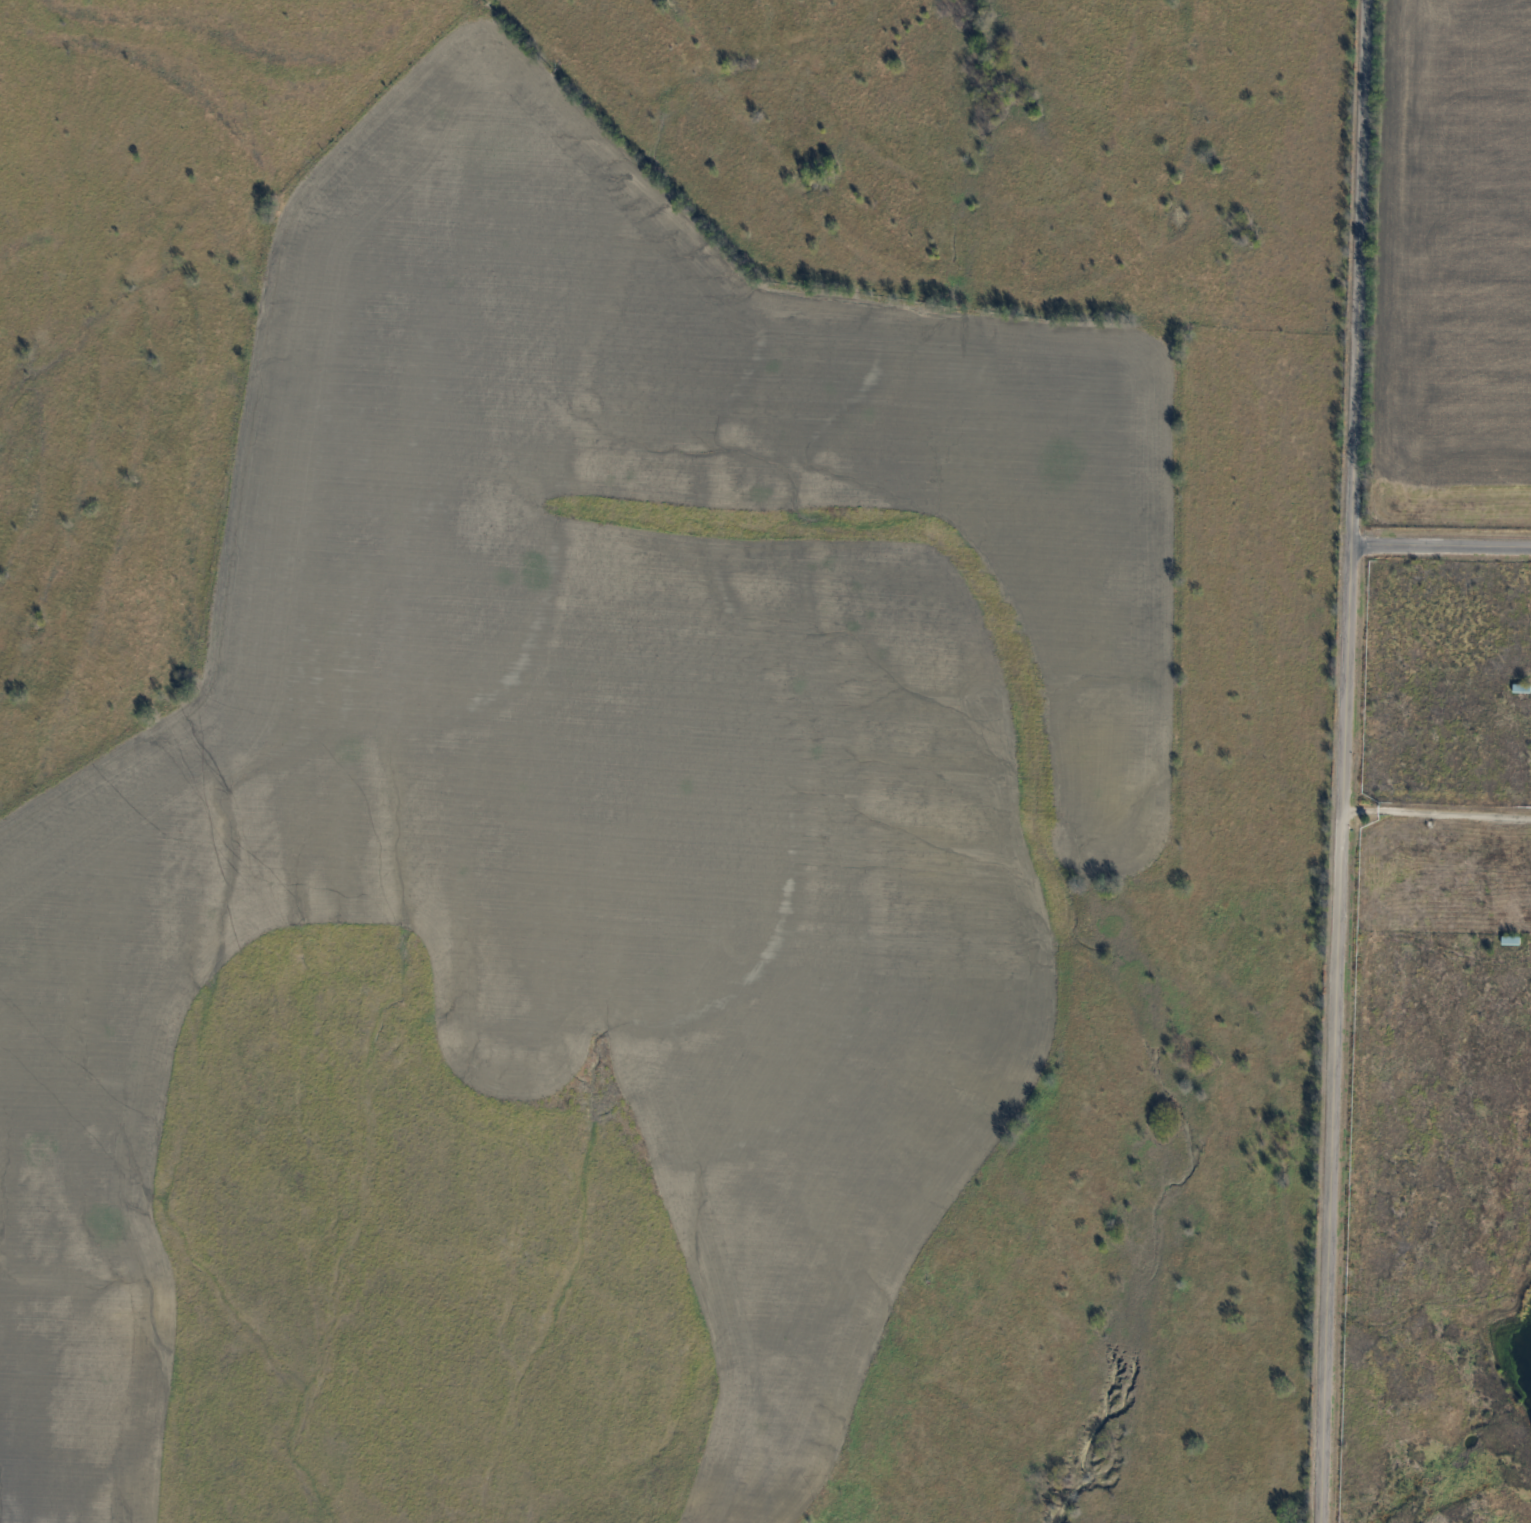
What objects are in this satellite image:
road: (1441, 548)
building: (1519, 687)
road: (1345, 761)
road: (1437, 811)
building: (1508, 939)

